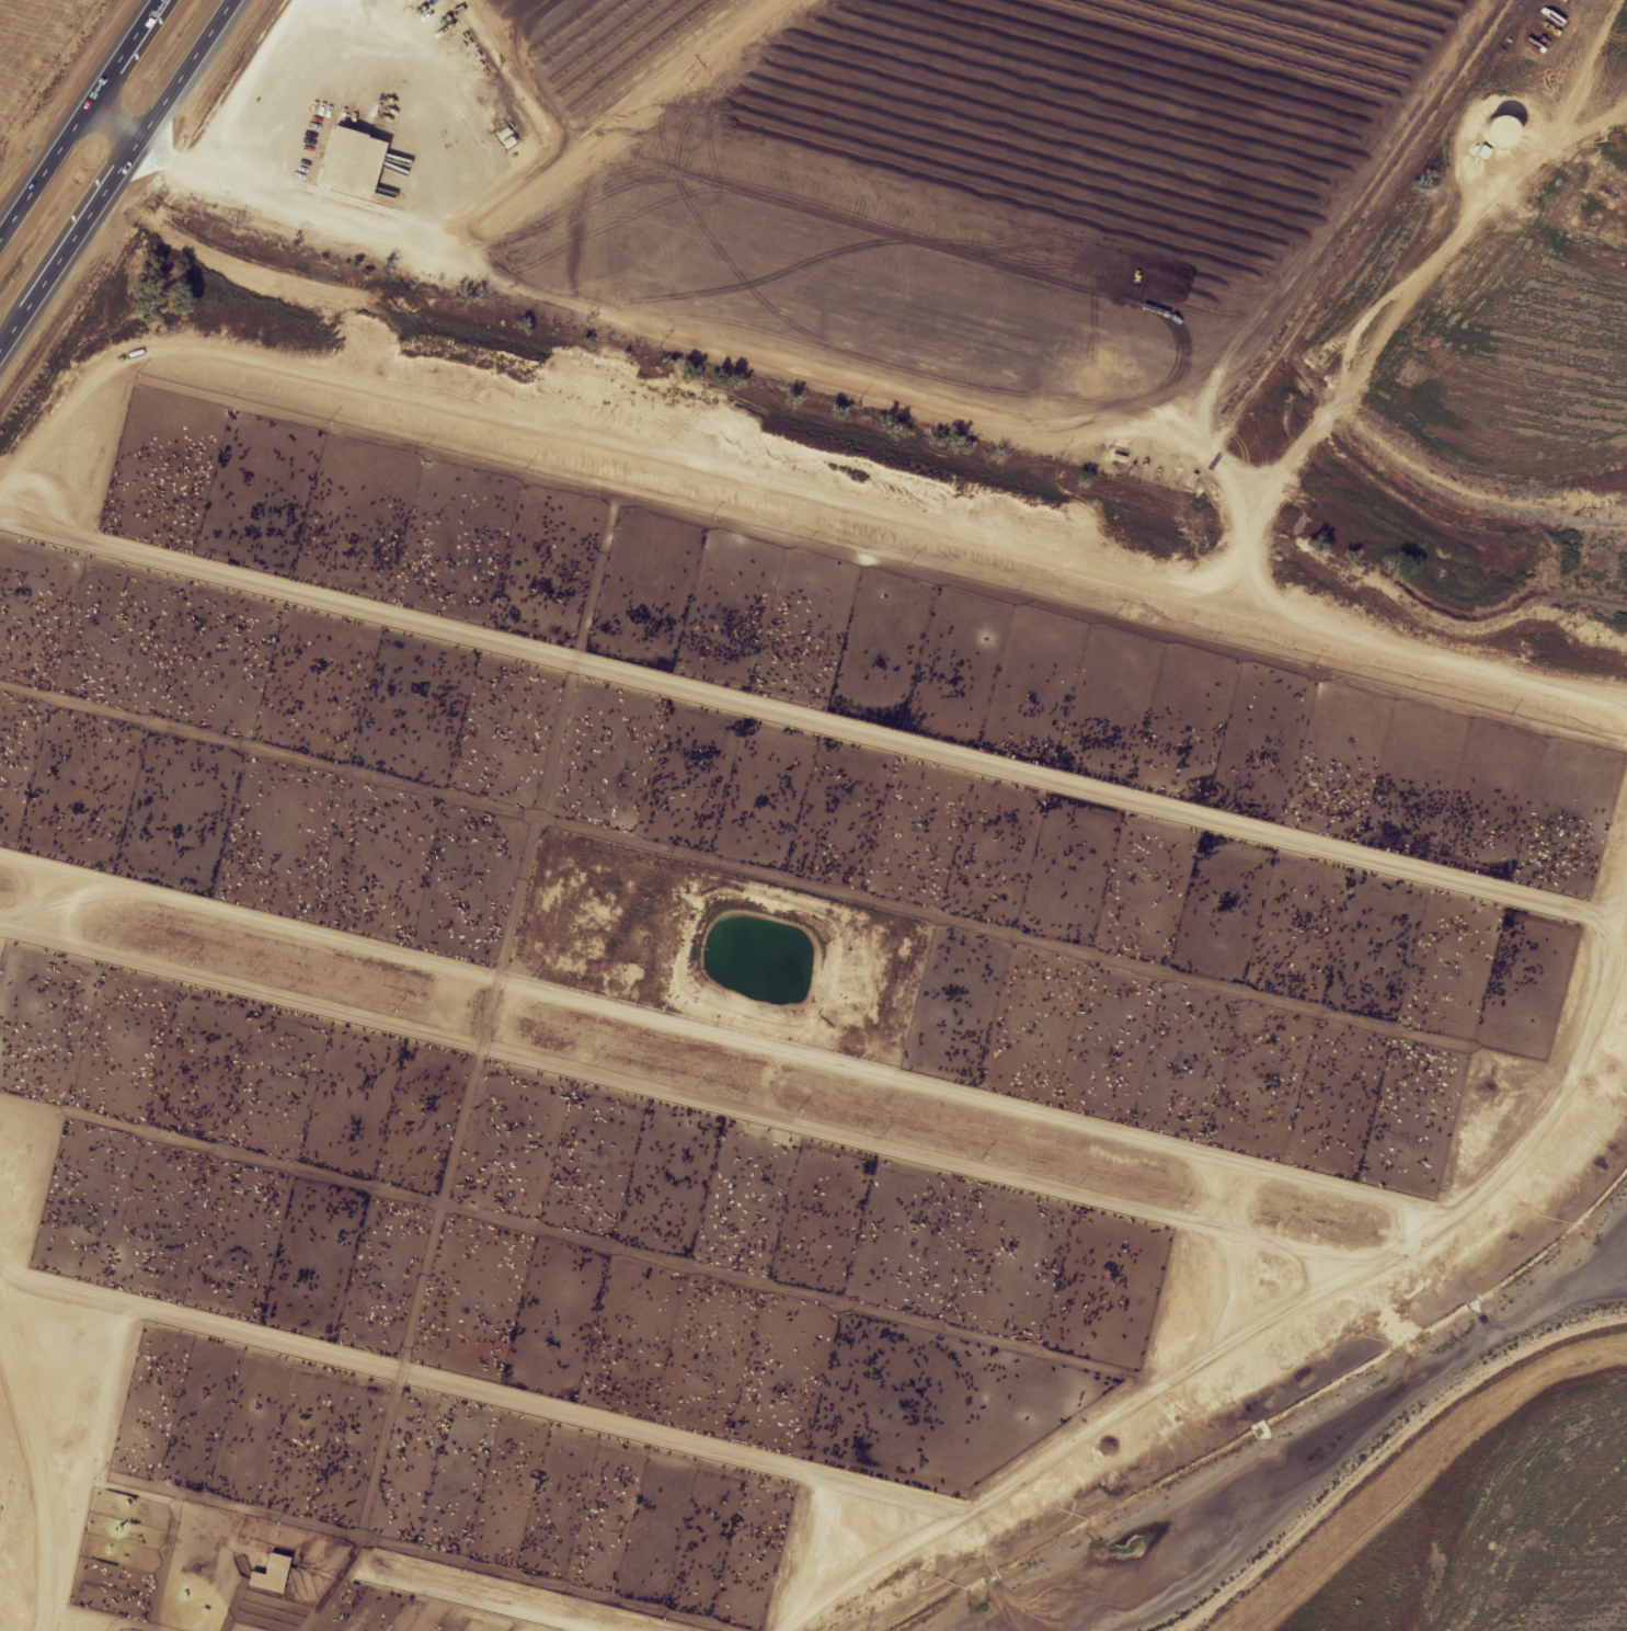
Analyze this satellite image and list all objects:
power tower: (687, 82)
road: (77, 115)
building: (359, 161)
road: (119, 181)
power tower: (391, 306)
road: (918, 400)
power tower: (95, 528)
building: (277, 1575)

